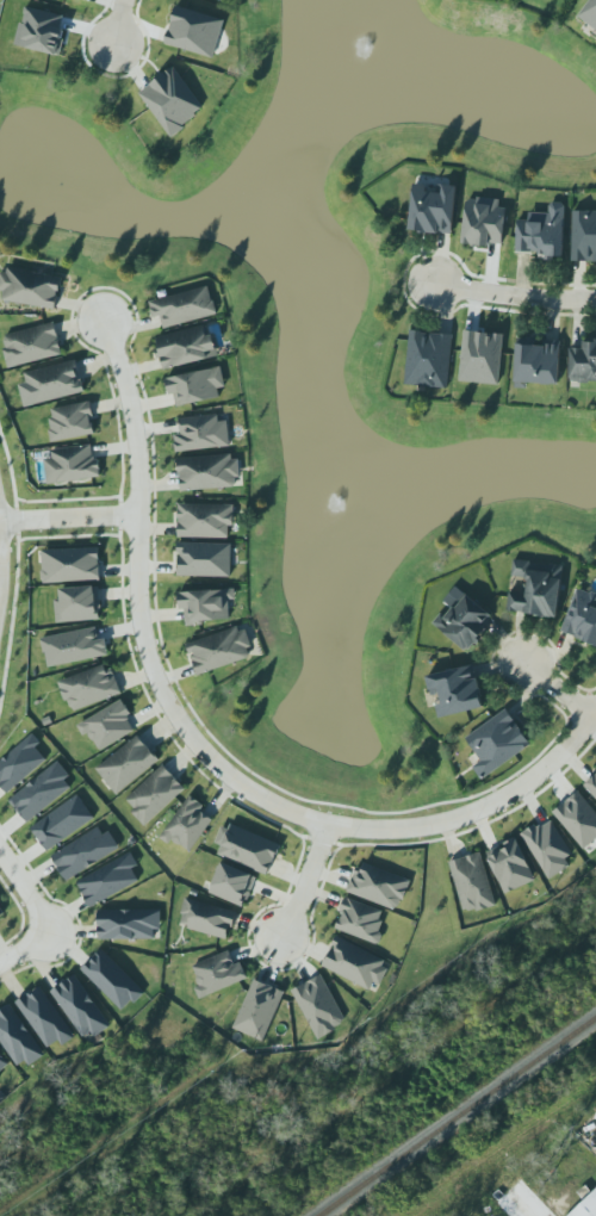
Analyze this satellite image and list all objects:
building: (217, 1)
building: (590, 13)
road: (108, 26)
building: (42, 30)
building: (194, 31)
fountain: (336, 56)
building: (172, 100)
fountain: (56, 184)
building: (433, 209)
building: (484, 222)
building: (544, 230)
building: (583, 235)
building: (30, 289)
road: (509, 297)
building: (184, 306)
building: (187, 343)
building: (31, 345)
building: (480, 355)
building: (538, 358)
building: (428, 359)
building: (583, 362)
building: (51, 383)
building: (197, 386)
building: (73, 418)
building: (200, 432)
building: (73, 463)
building: (209, 470)
fountain: (335, 501)
road: (69, 517)
building: (205, 517)
building: (205, 559)
building: (70, 564)
building: (536, 585)
building: (77, 601)
building: (206, 603)
building: (582, 614)
building: (464, 616)
building: (74, 646)
building: (221, 647)
building: (89, 687)
building: (457, 687)
road: (557, 689)
building: (106, 724)
building: (497, 742)
road: (203, 751)
building: (128, 763)
building: (20, 764)
building: (591, 784)
building: (42, 792)
building: (155, 793)
building: (578, 819)
building: (187, 821)
building: (62, 823)
building: (548, 846)
building: (247, 849)
building: (83, 850)
building: (510, 866)
road: (305, 879)
building: (108, 880)
building: (472, 883)
building: (232, 885)
building: (379, 886)
road: (26, 889)
building: (1, 910)
building: (207, 917)
building: (360, 918)
building: (130, 924)
road: (23, 950)
building: (354, 961)
building: (219, 972)
building: (112, 980)
building: (80, 1005)
building: (316, 1005)
building: (257, 1009)
building: (45, 1016)
building: (18, 1036)
building: (2, 1061)
railway: (459, 1118)
building: (586, 1206)

